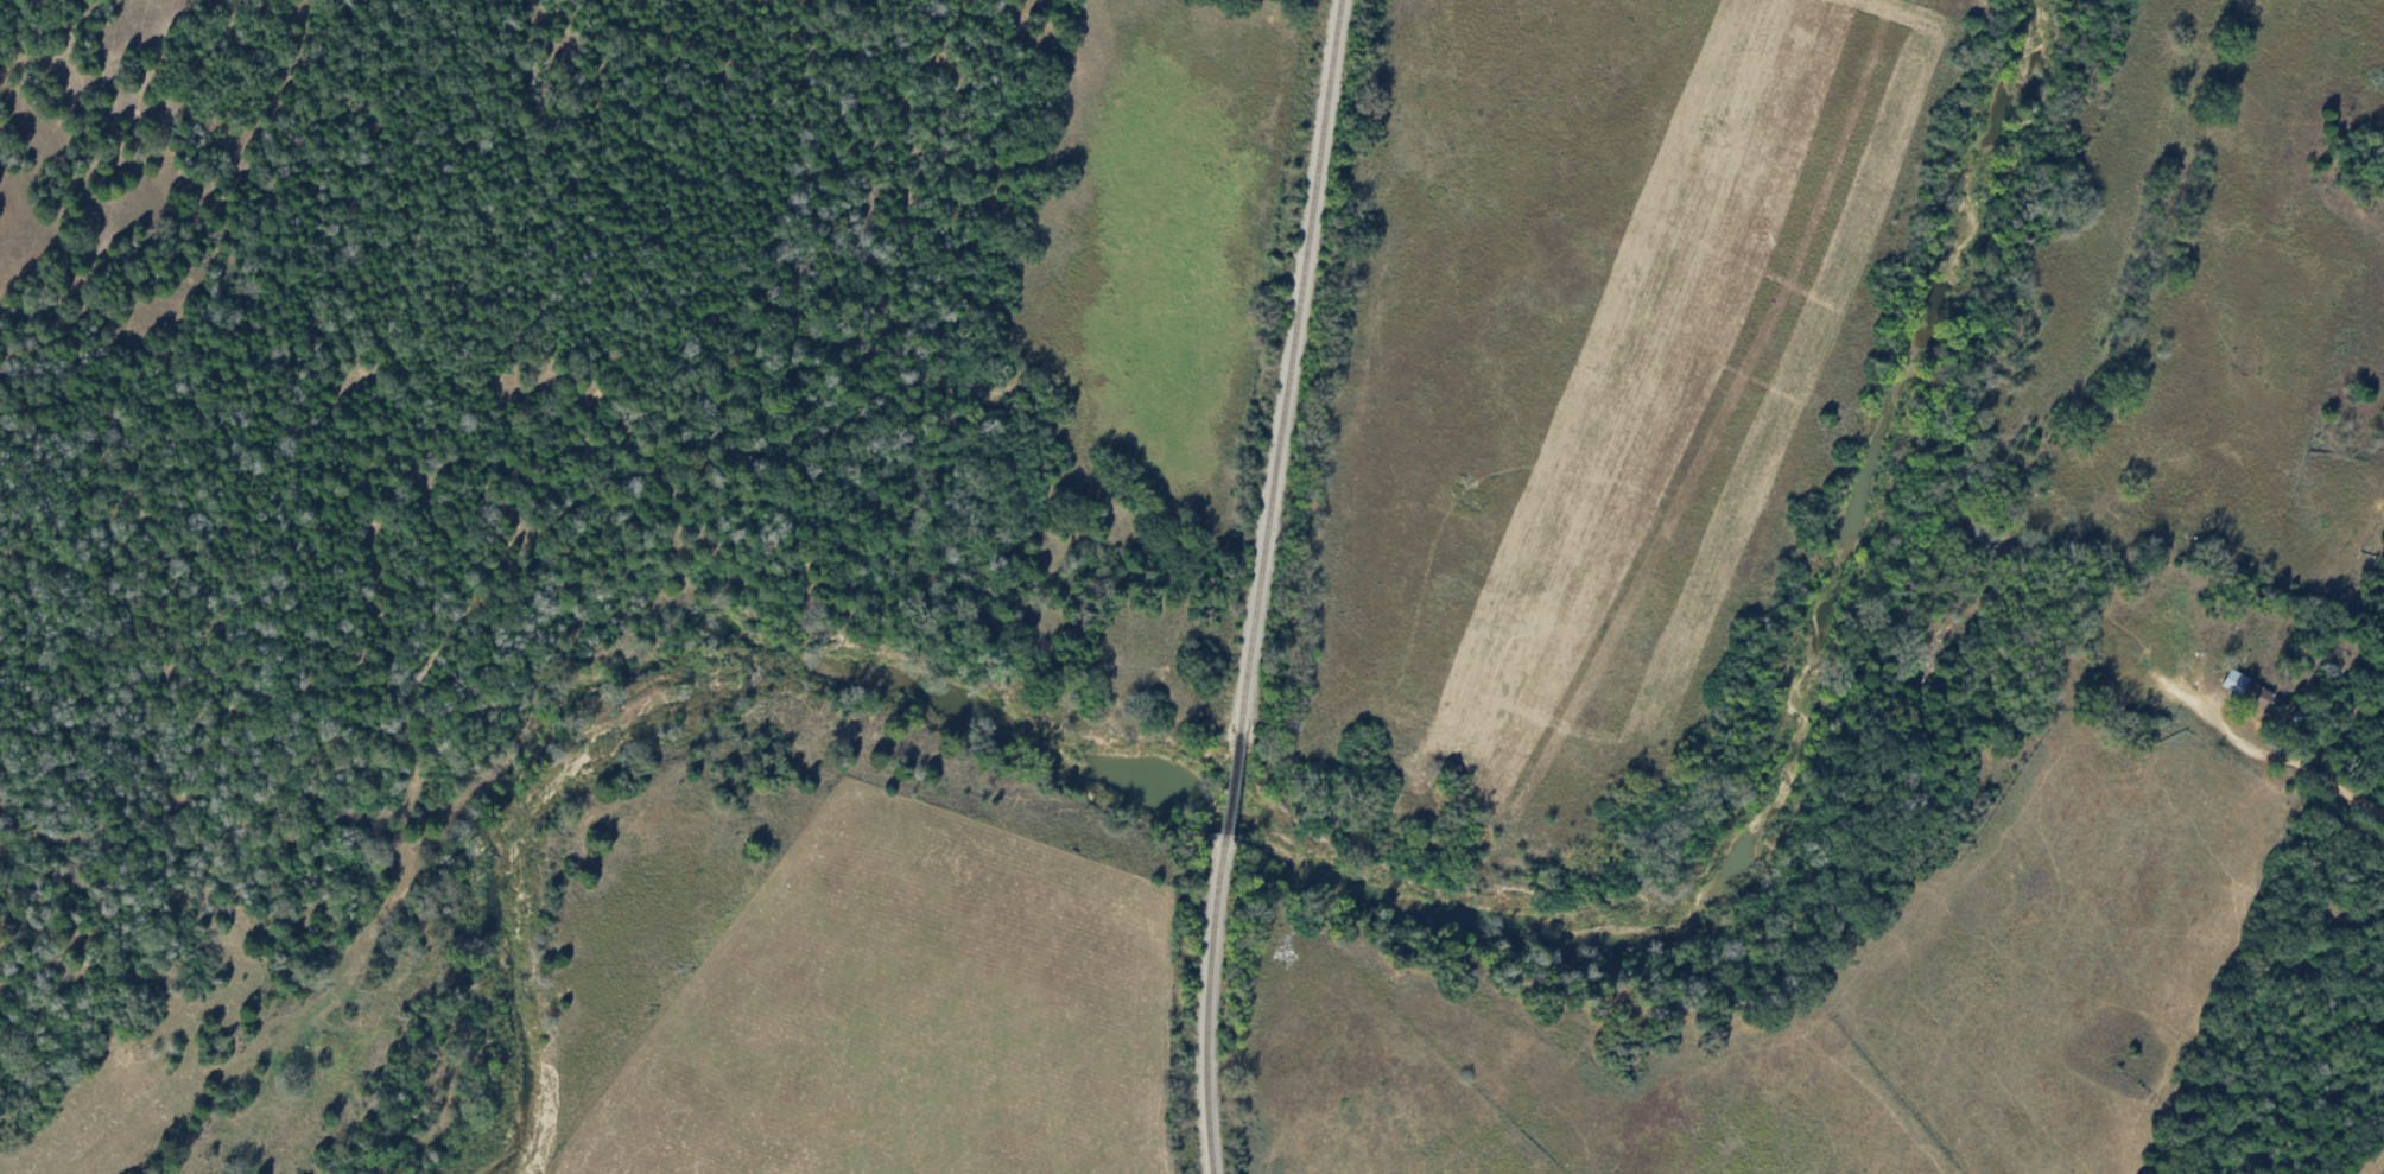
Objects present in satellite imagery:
railway: (1262, 585)
building: (2233, 683)
road: (2281, 759)

